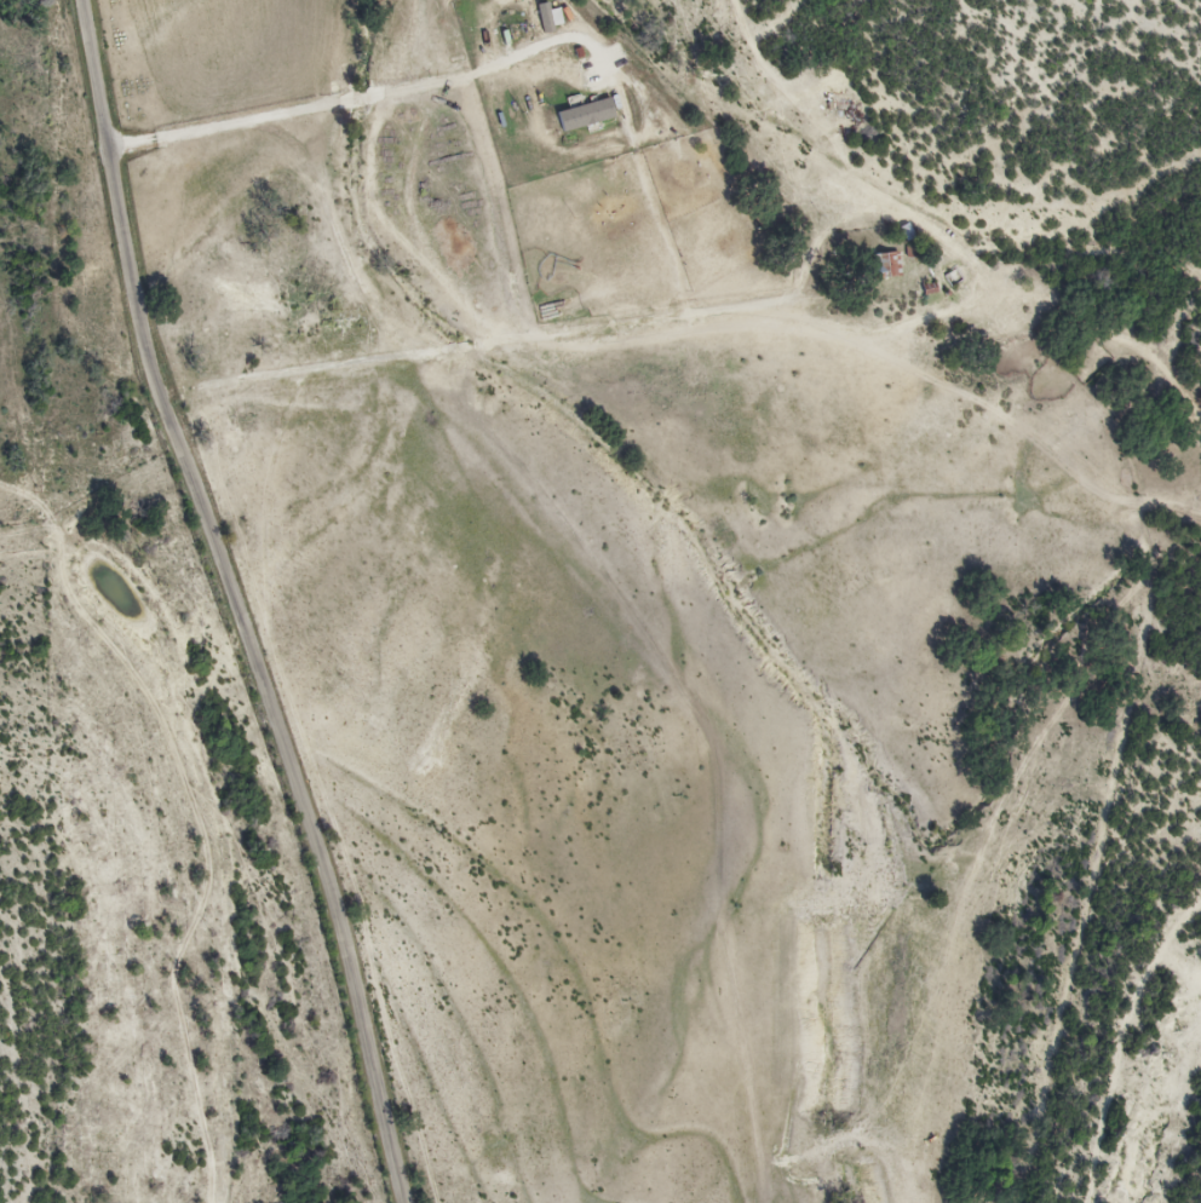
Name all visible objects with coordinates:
building: (529, 22)
road: (378, 102)
building: (586, 116)
building: (886, 265)
road: (724, 269)
road: (235, 603)
road: (114, 869)

